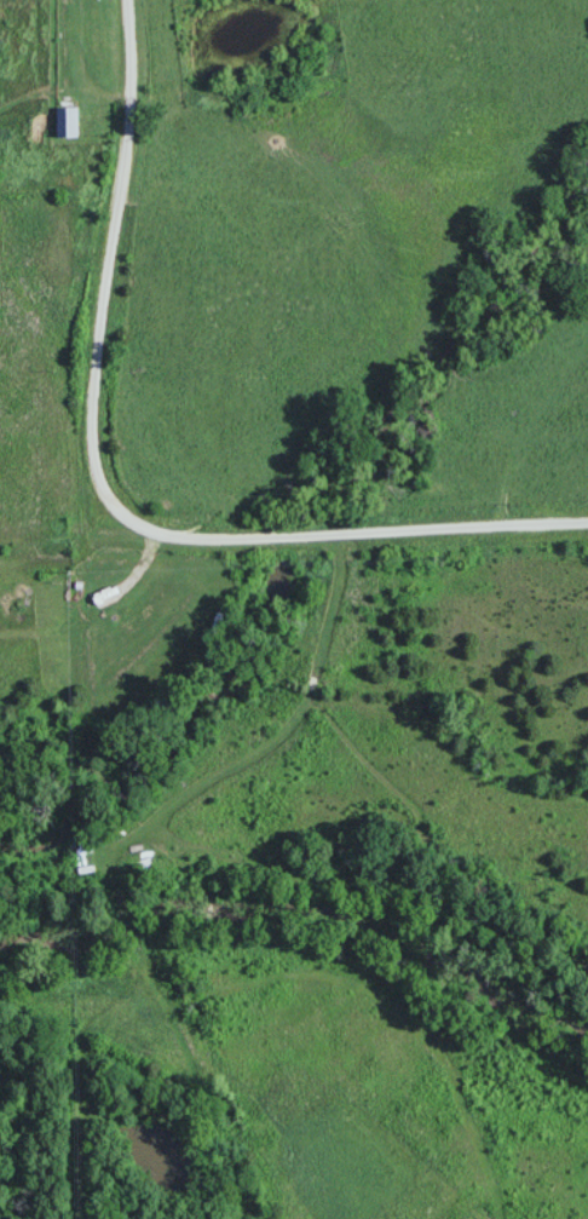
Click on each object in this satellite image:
building: (69, 121)
road: (106, 491)

